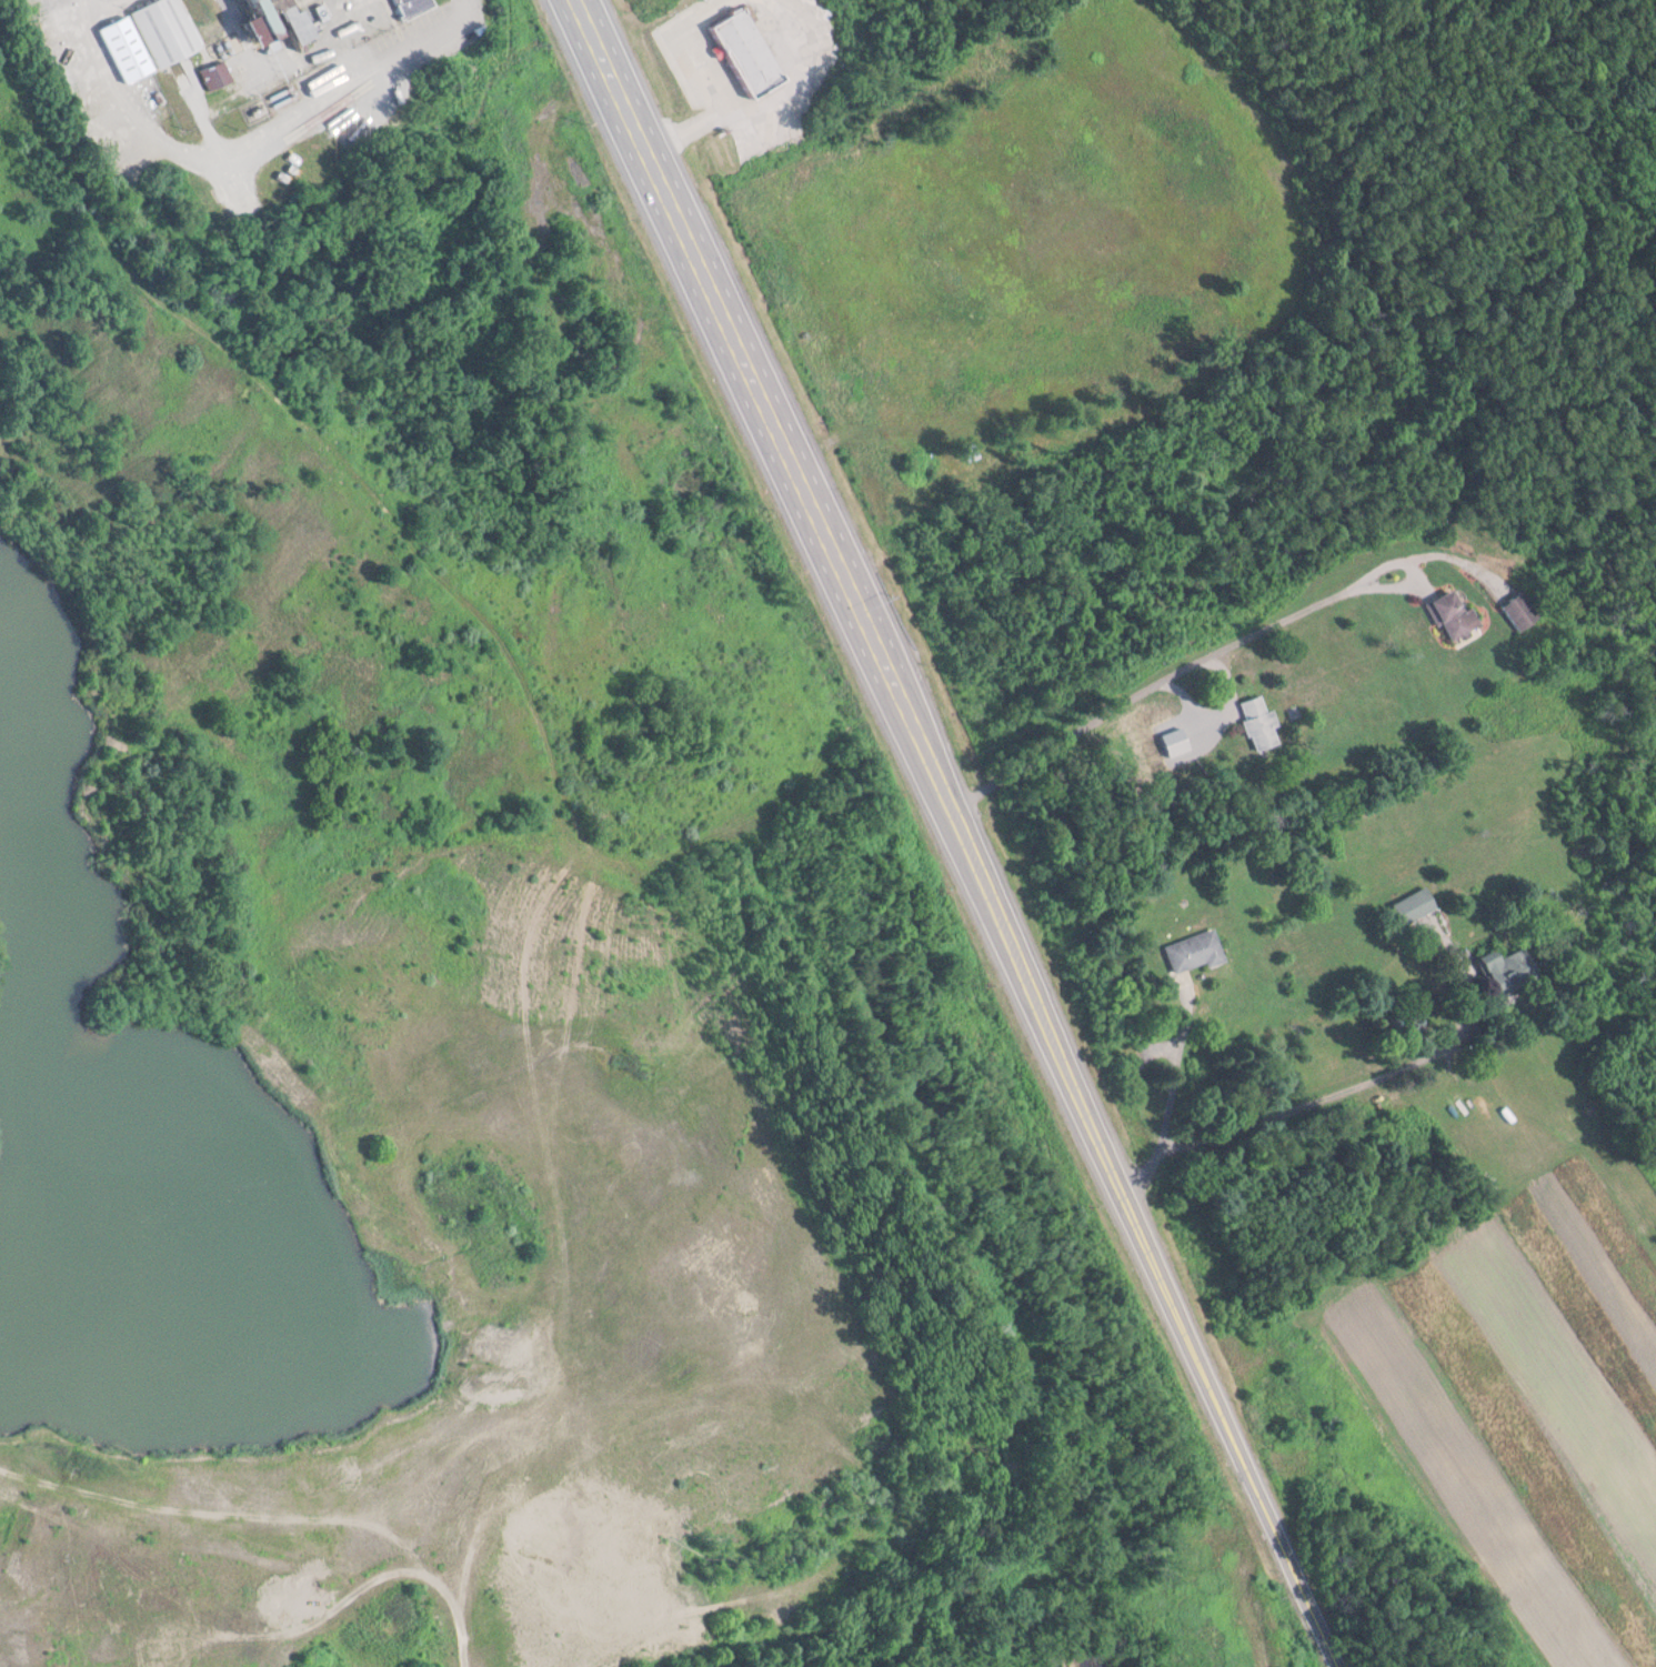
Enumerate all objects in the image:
road: (82, 1)
building: (405, 3)
road: (210, 7)
building: (282, 16)
building: (159, 26)
road: (459, 28)
road: (311, 37)
building: (119, 41)
building: (740, 41)
building: (211, 67)
crop: (744, 70)
road: (197, 102)
road: (227, 145)
road: (750, 408)
road: (428, 551)
road: (1461, 555)
road: (1414, 568)
building: (1518, 603)
building: (1448, 606)
road: (1143, 684)
road: (1215, 702)
building: (1251, 714)
crop: (1375, 837)
building: (1407, 898)
building: (1187, 942)
building: (1501, 962)
road: (1344, 1091)
road: (1172, 1102)
road: (1137, 1242)
crop: (1532, 1395)
road: (230, 1509)
road: (372, 1583)
building: (170, 1646)

